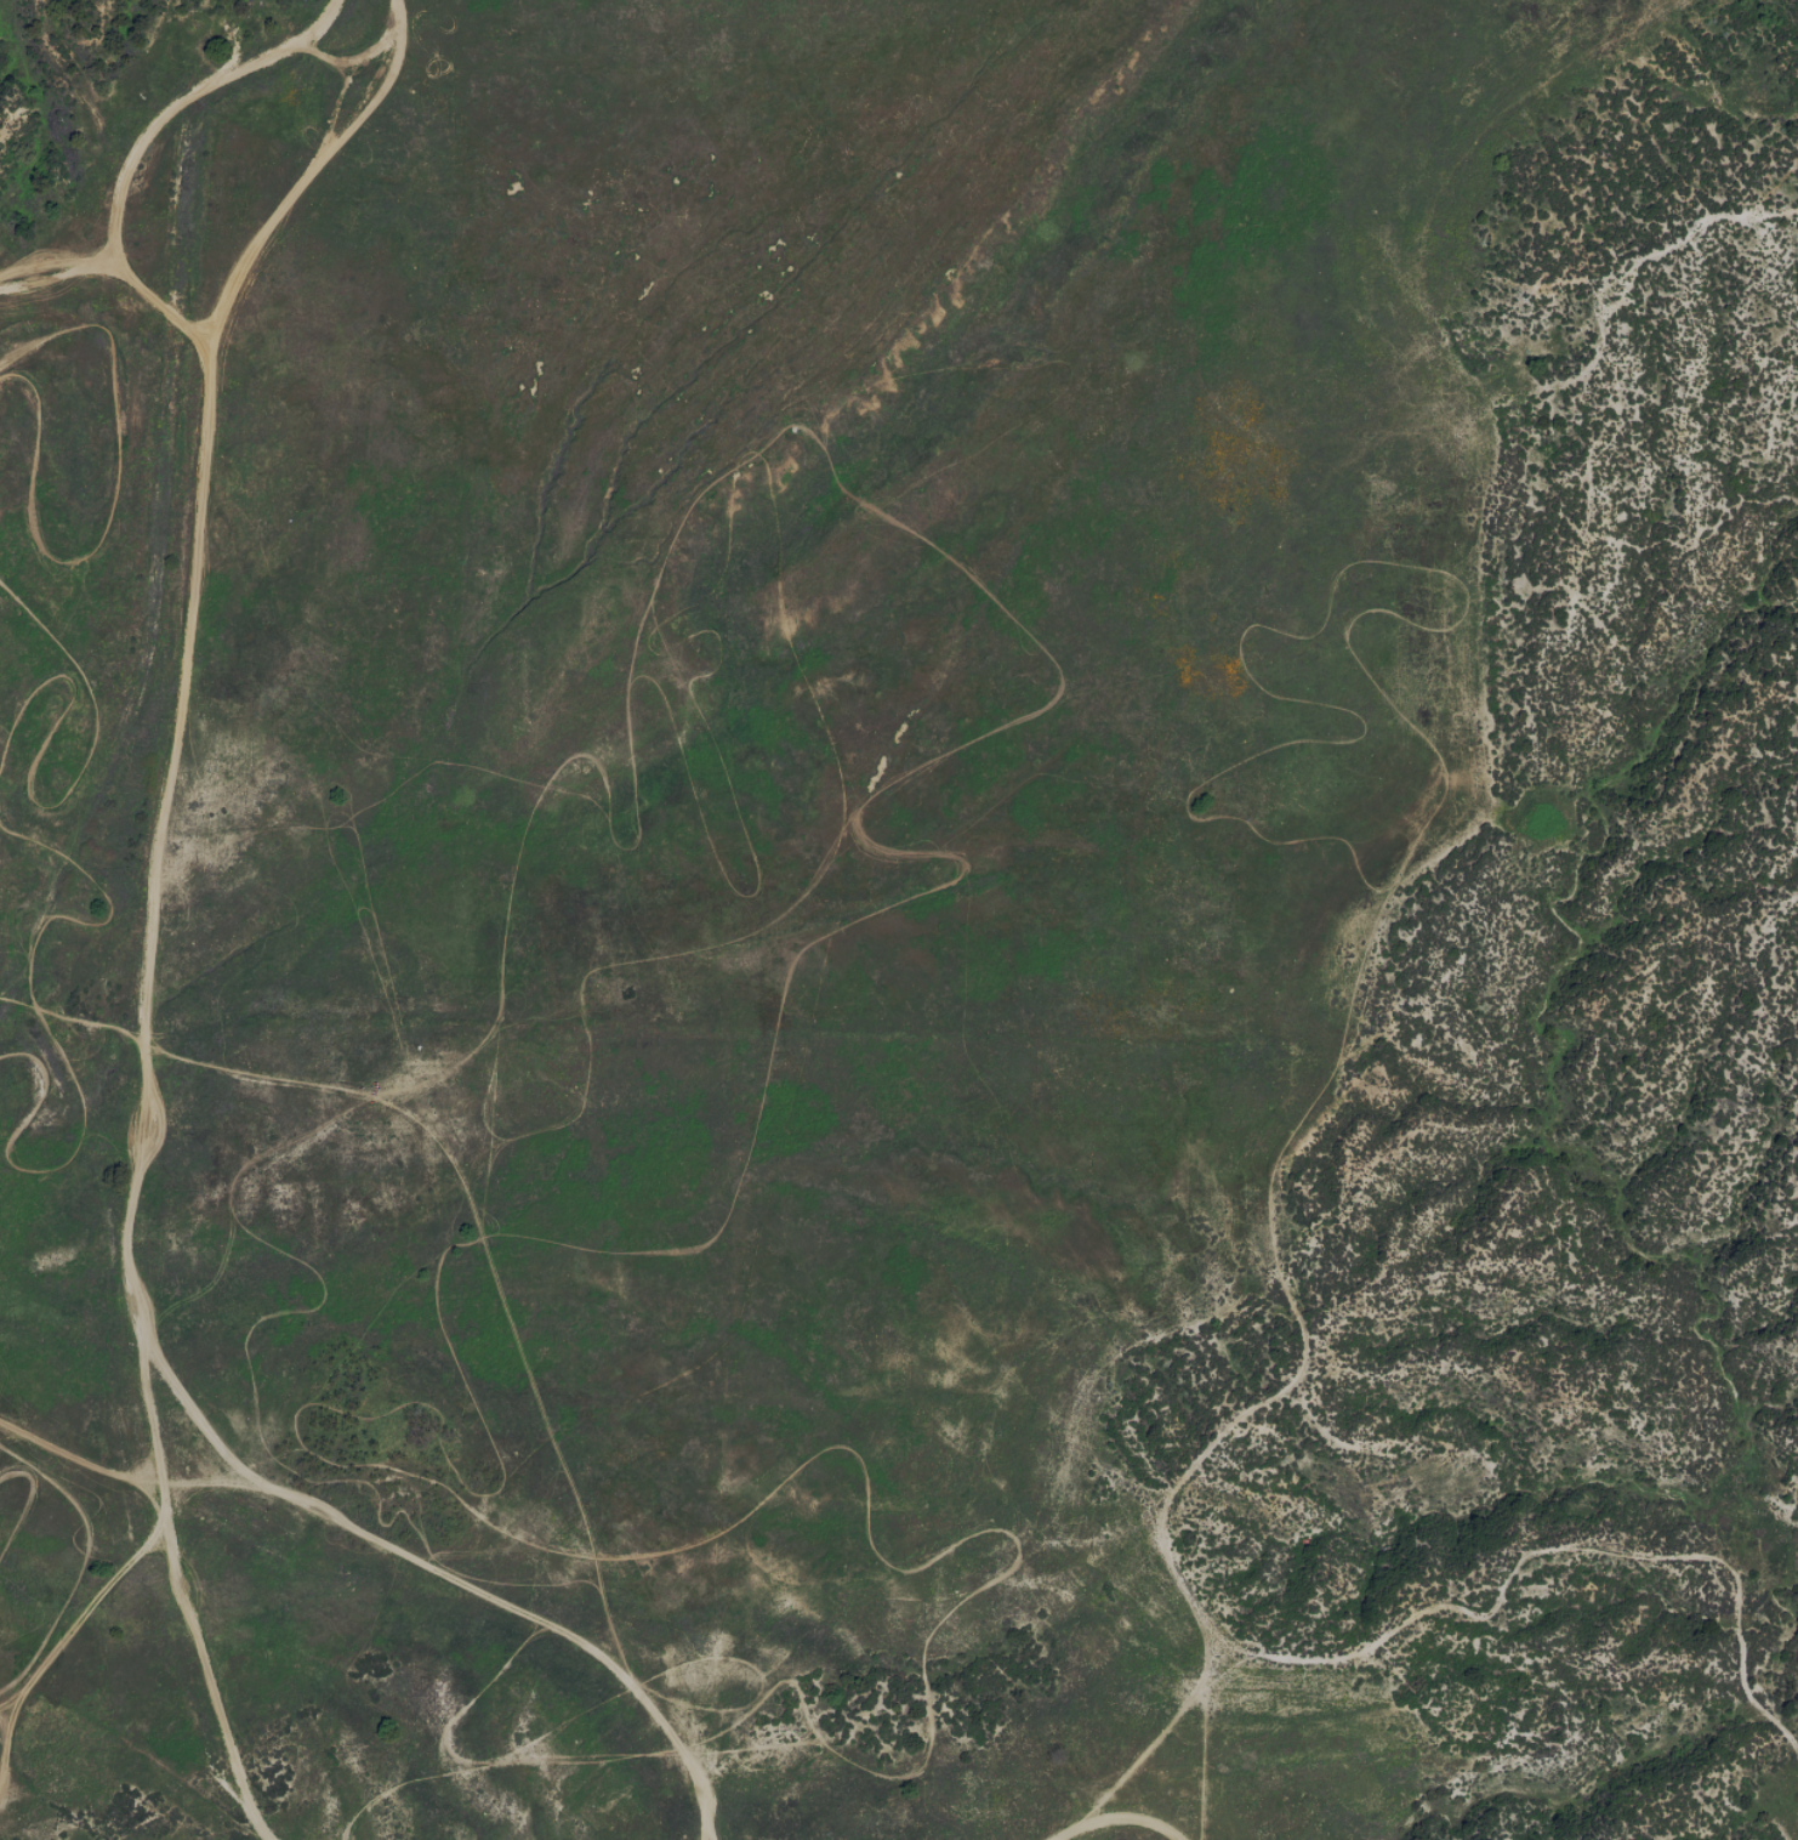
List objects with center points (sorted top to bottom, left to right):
road: (186, 317)
road: (142, 1312)
road: (404, 1590)
road: (76, 1611)
road: (1066, 1828)

